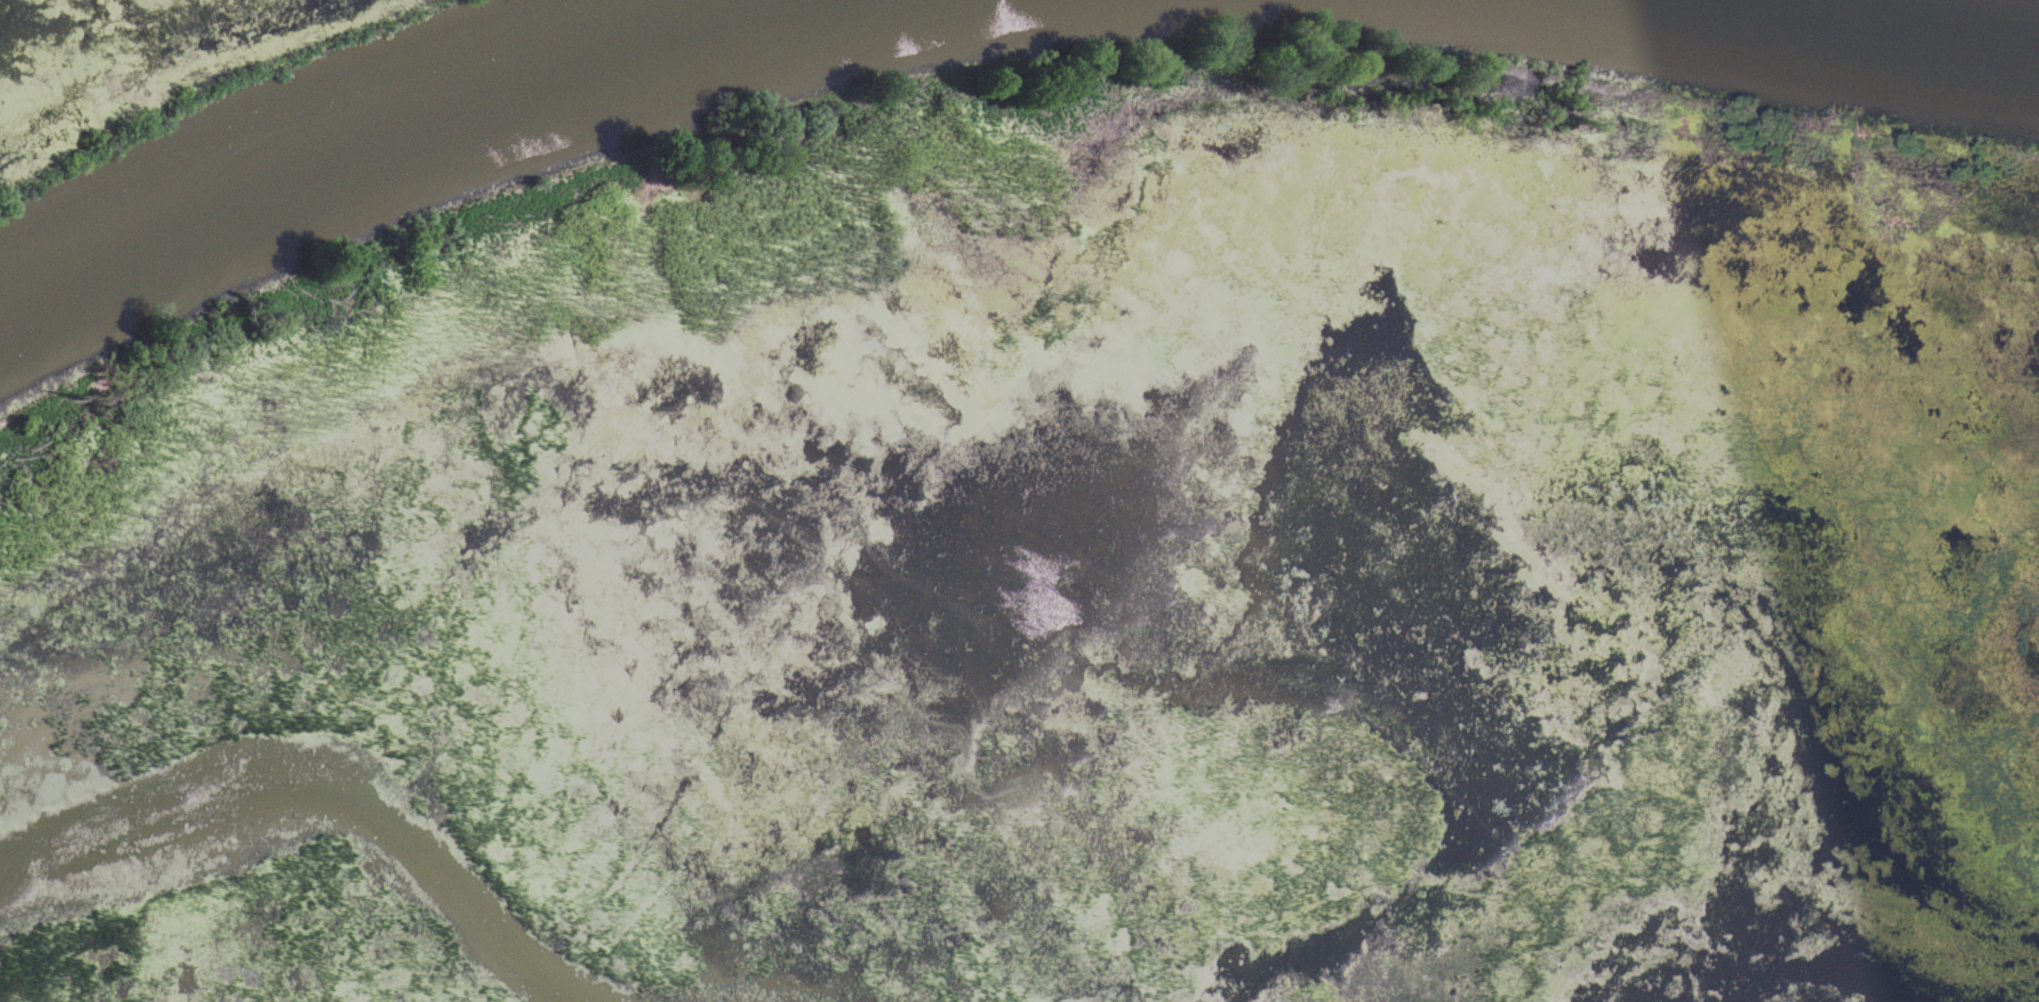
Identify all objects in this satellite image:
river: (1682, 13)
river: (387, 163)

